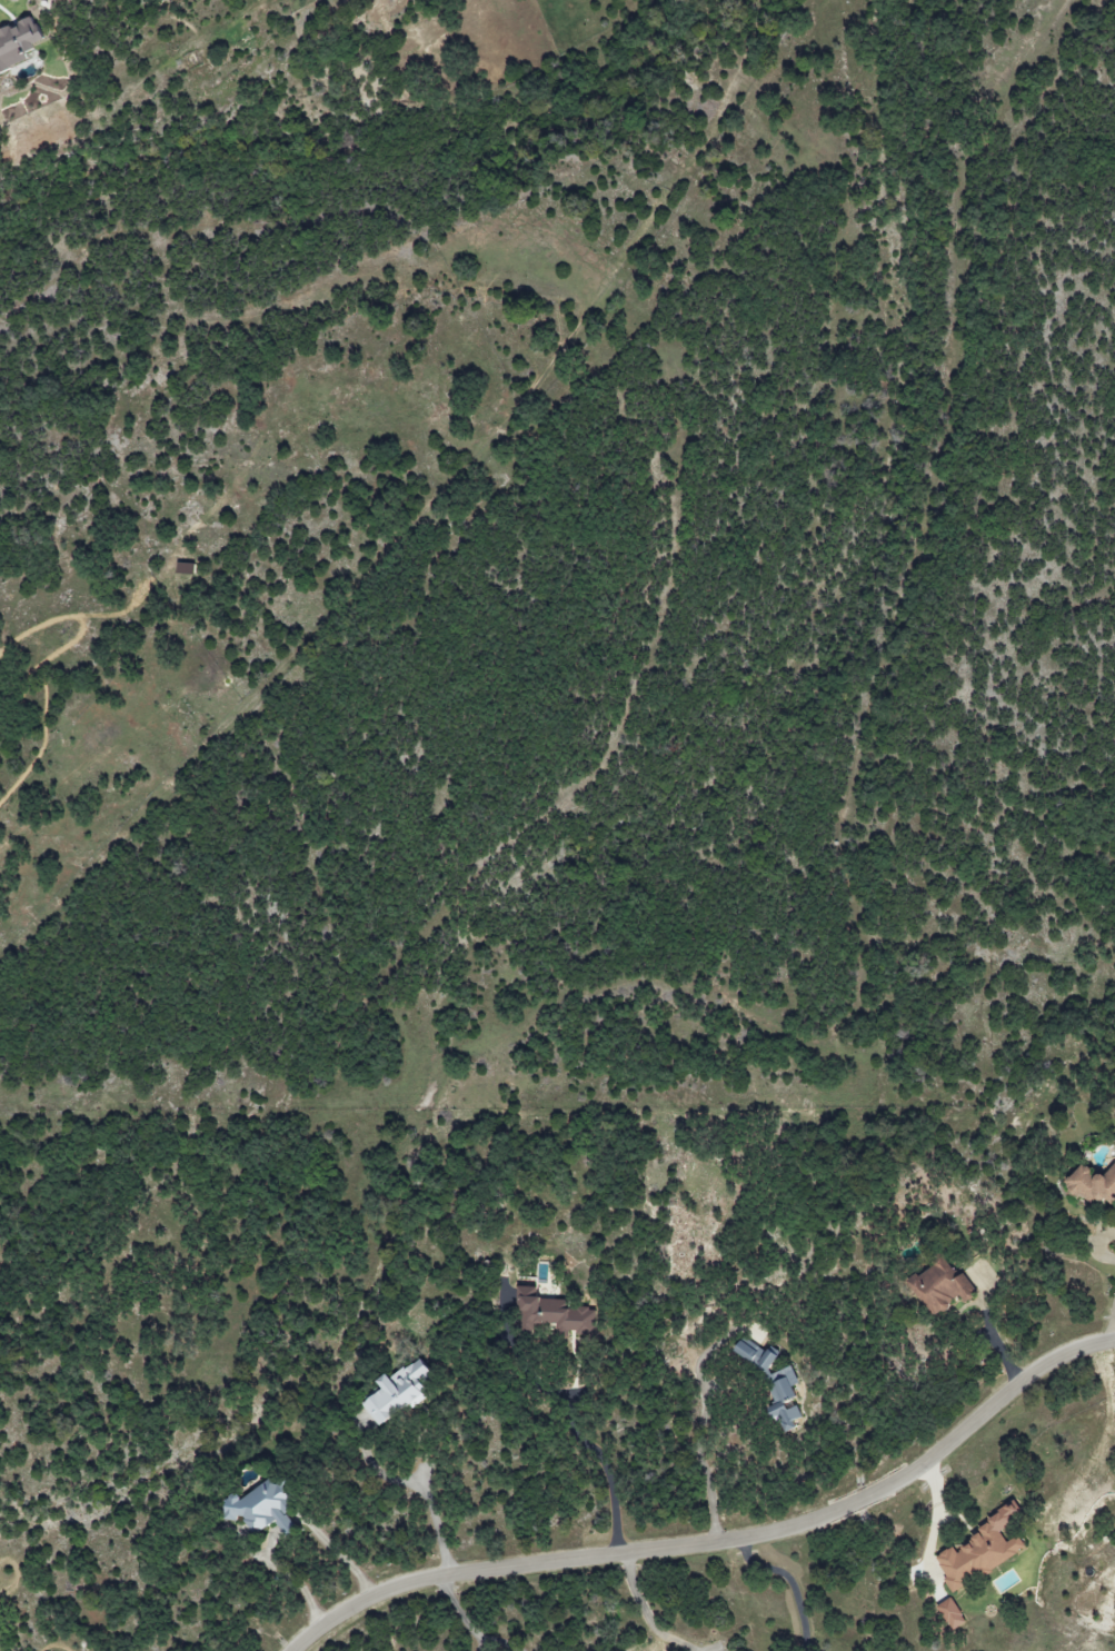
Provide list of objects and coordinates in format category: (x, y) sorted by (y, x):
building: (18, 42)
building: (186, 568)
building: (1093, 1183)
building: (940, 1285)
building: (554, 1313)
road: (1112, 1329)
road: (995, 1341)
building: (776, 1388)
building: (397, 1392)
road: (697, 1431)
road: (591, 1452)
road: (415, 1491)
building: (262, 1508)
road: (288, 1525)
road: (720, 1543)
road: (340, 1548)
building: (979, 1551)
road: (296, 1575)
road: (792, 1582)
building: (950, 1613)
road: (645, 1615)
road: (469, 1627)

